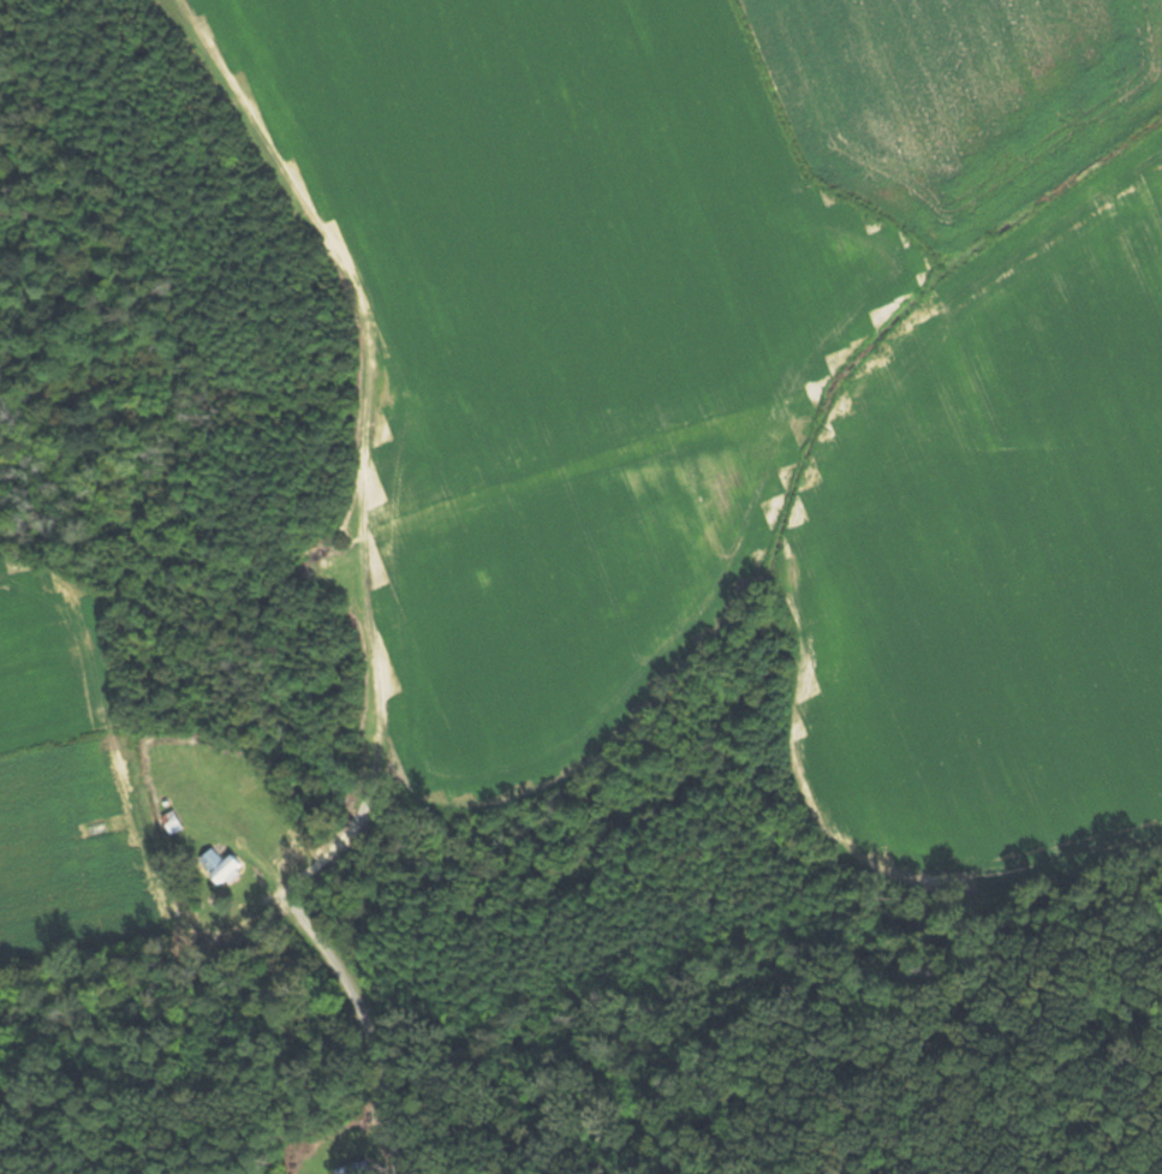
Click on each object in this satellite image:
building: (185, 747)
road: (380, 768)
road: (357, 824)
building: (225, 866)
road: (314, 928)
road: (381, 1101)
building: (362, 1168)

